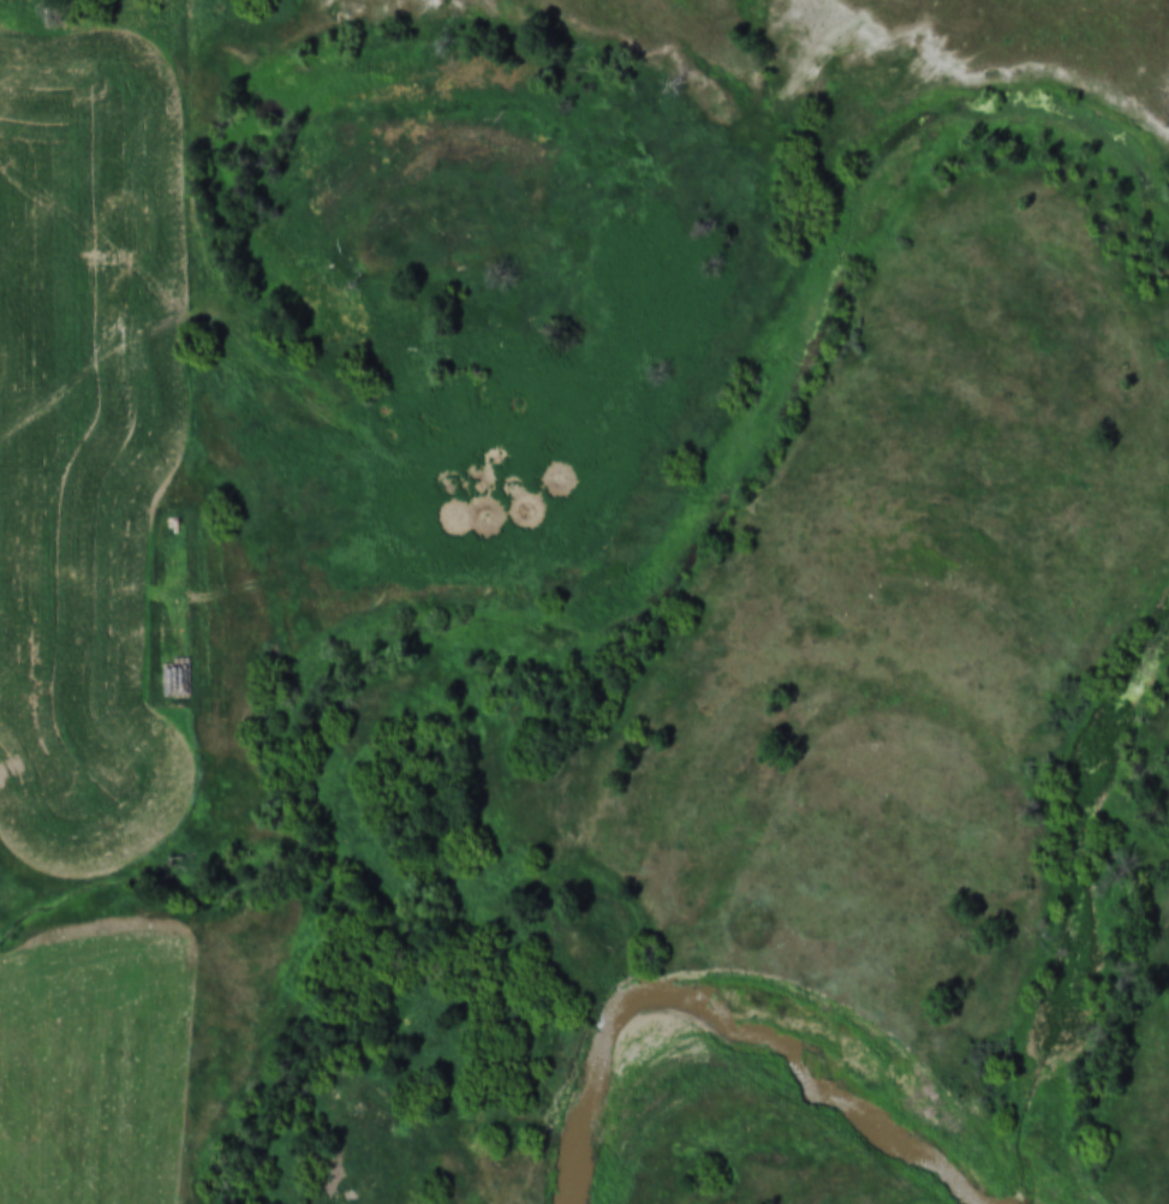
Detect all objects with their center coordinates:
river: (729, 1018)

